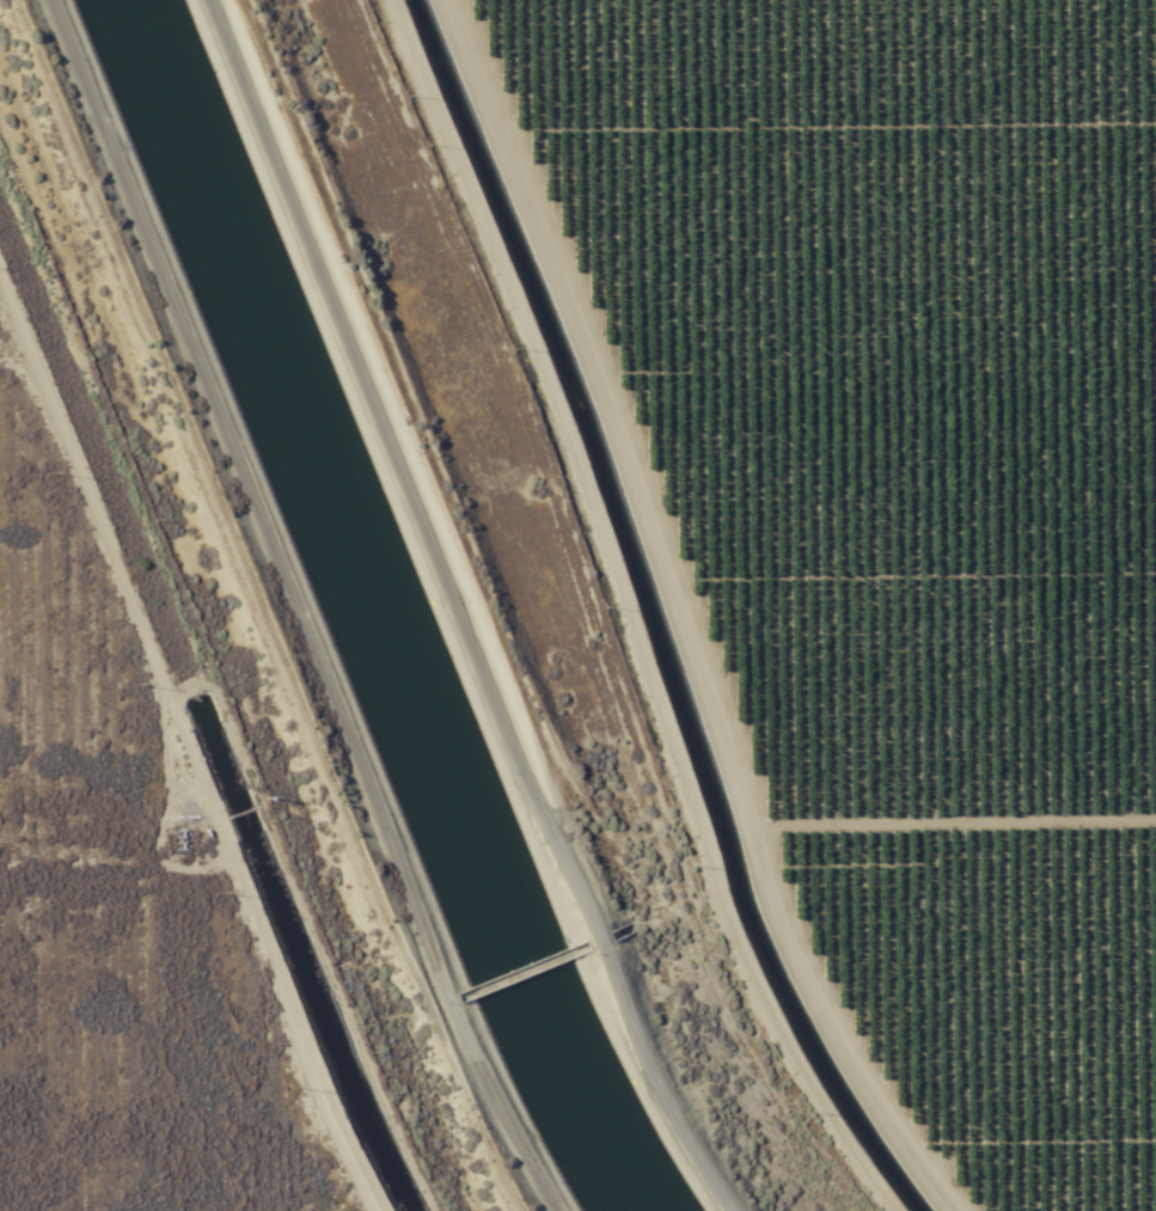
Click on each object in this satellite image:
road: (293, 612)
road: (111, 735)

